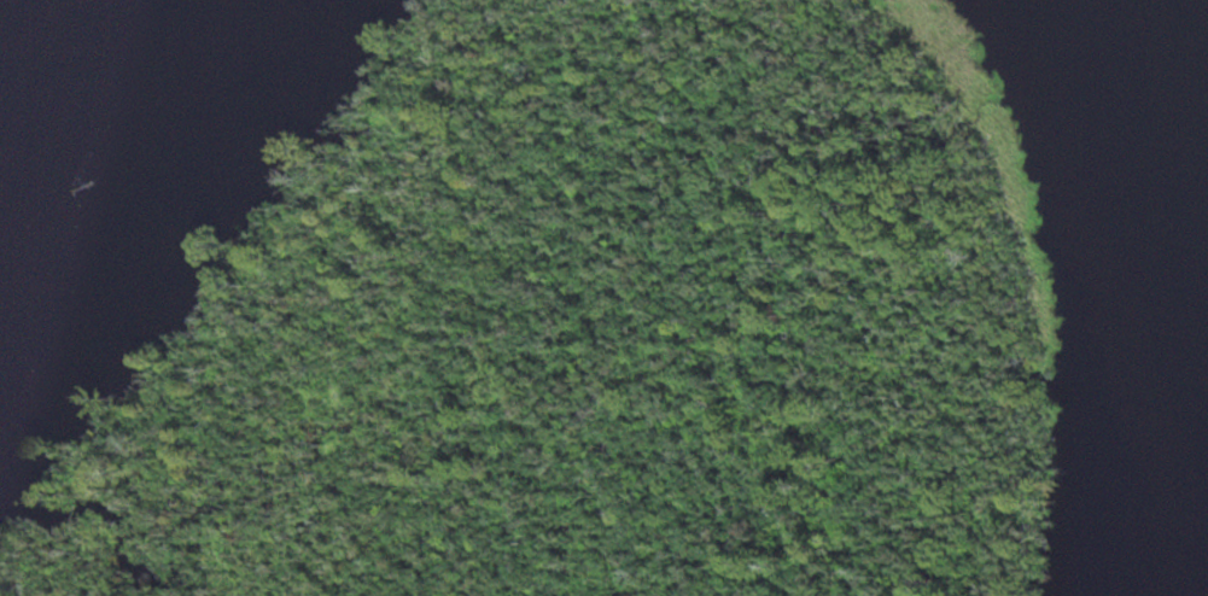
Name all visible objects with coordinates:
river: (86, 97)
river: (1171, 157)
river: (4, 193)

